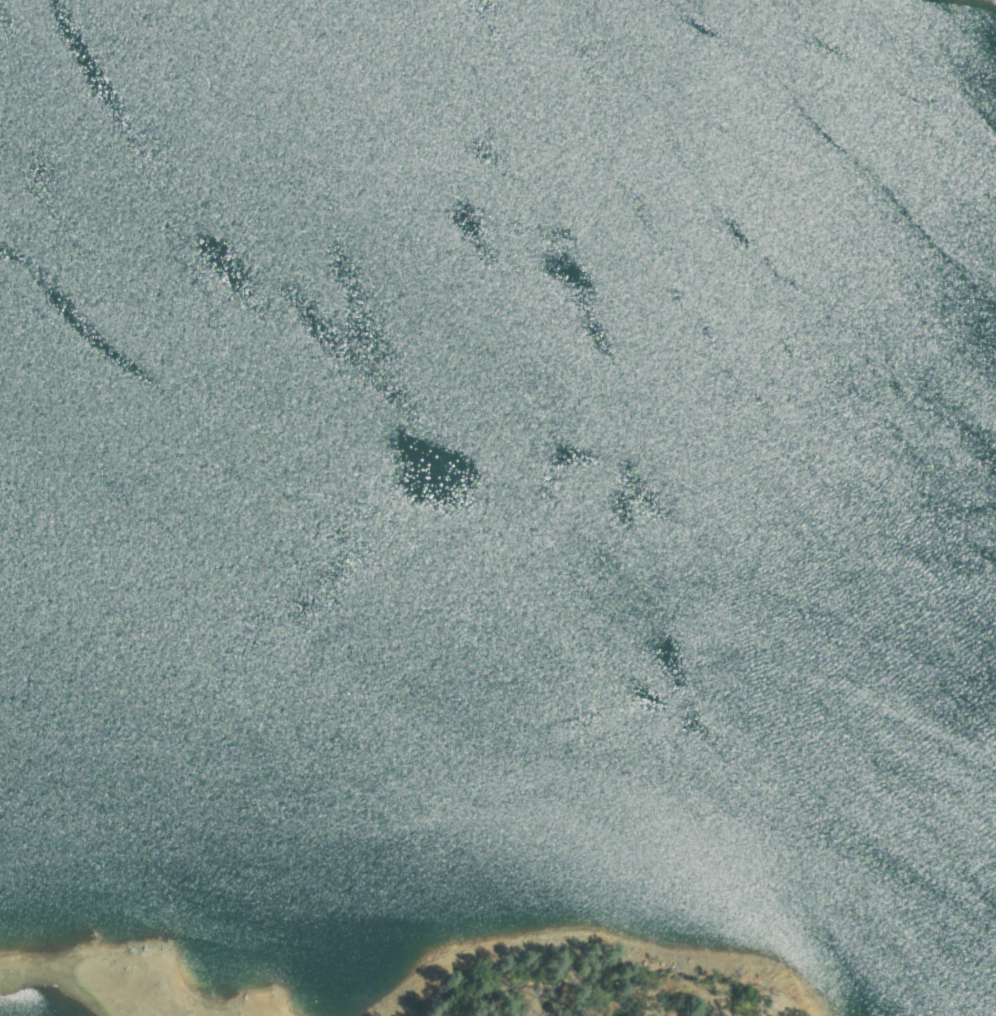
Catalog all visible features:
river: (587, 324)

